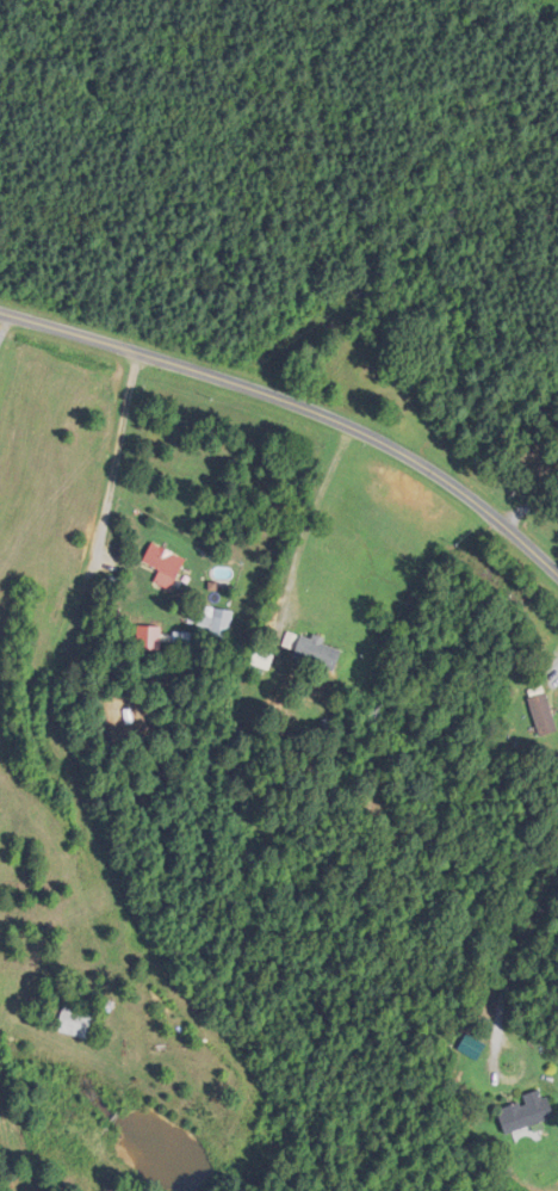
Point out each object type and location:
road: (298, 397)
road: (117, 453)
road: (532, 501)
road: (311, 516)
building: (165, 564)
building: (216, 621)
building: (317, 652)
building: (542, 714)
road: (299, 821)
road: (510, 969)
building: (75, 1023)
building: (526, 1112)

